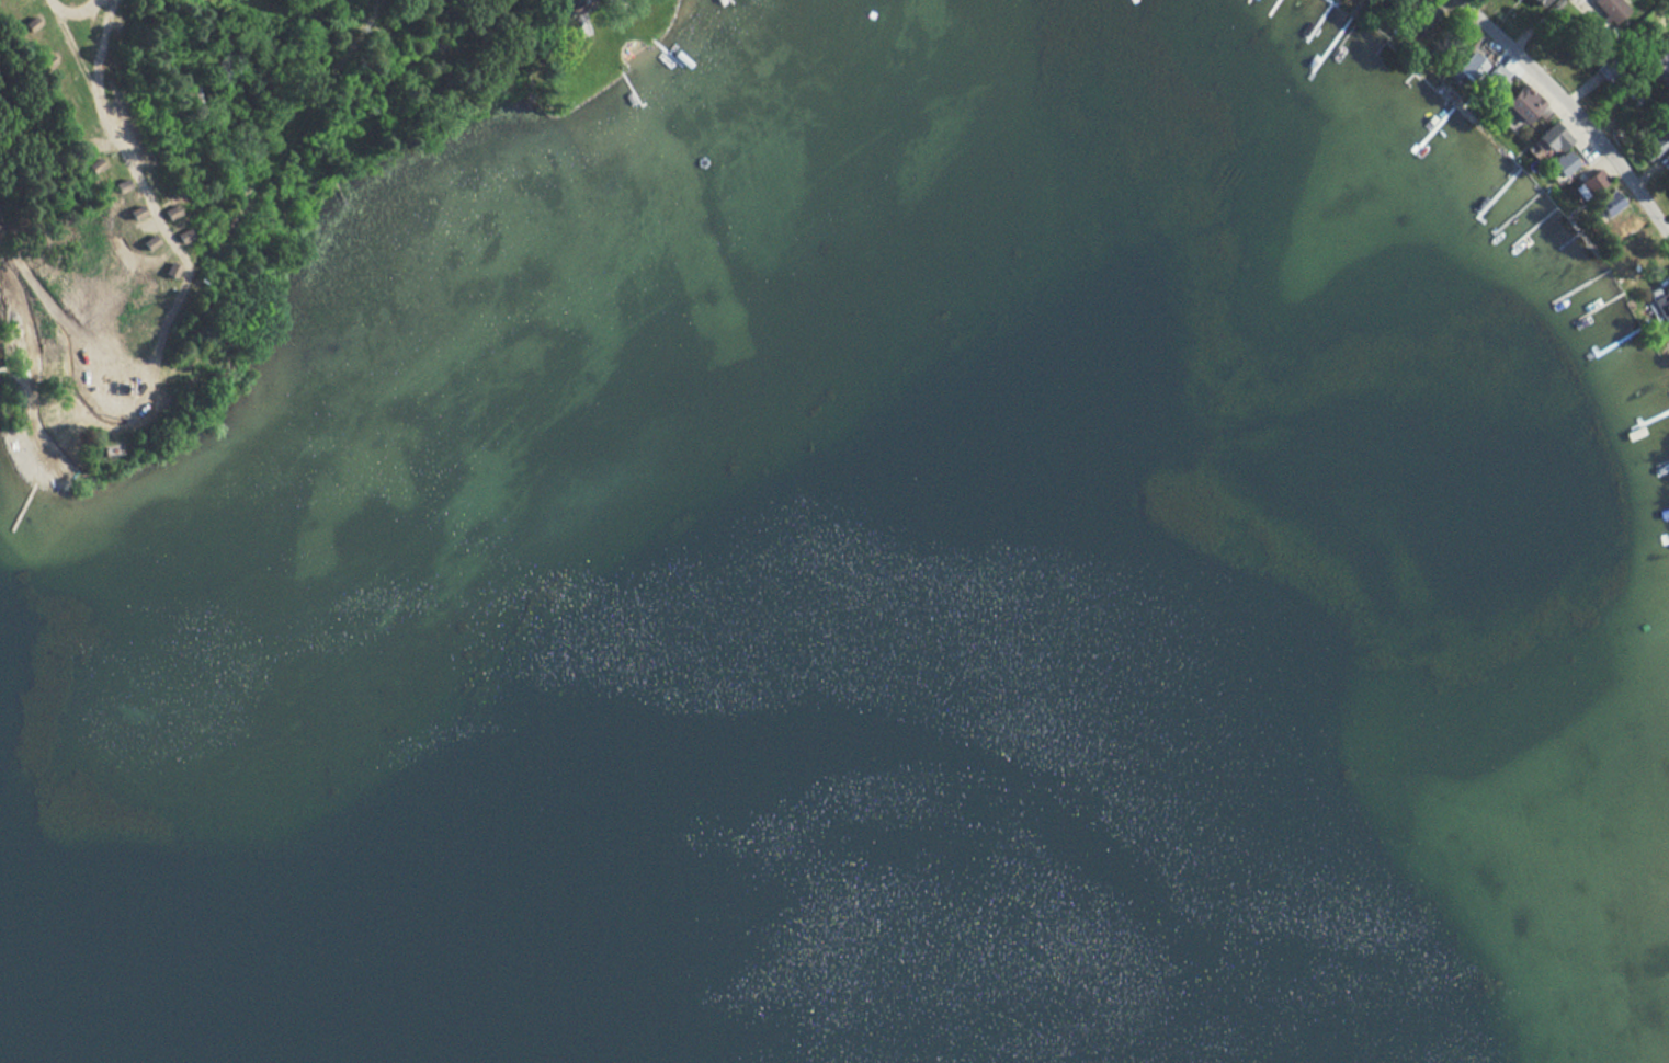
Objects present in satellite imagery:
building: (1528, 2)
building: (1606, 8)
building: (1465, 67)
building: (1660, 67)
building: (1489, 78)
building: (1514, 104)
road: (1568, 108)
building: (127, 136)
building: (1544, 139)
building: (1647, 148)
building: (1556, 164)
building: (1587, 184)
building: (1602, 208)
building: (1662, 308)
building: (82, 316)
building: (103, 385)

